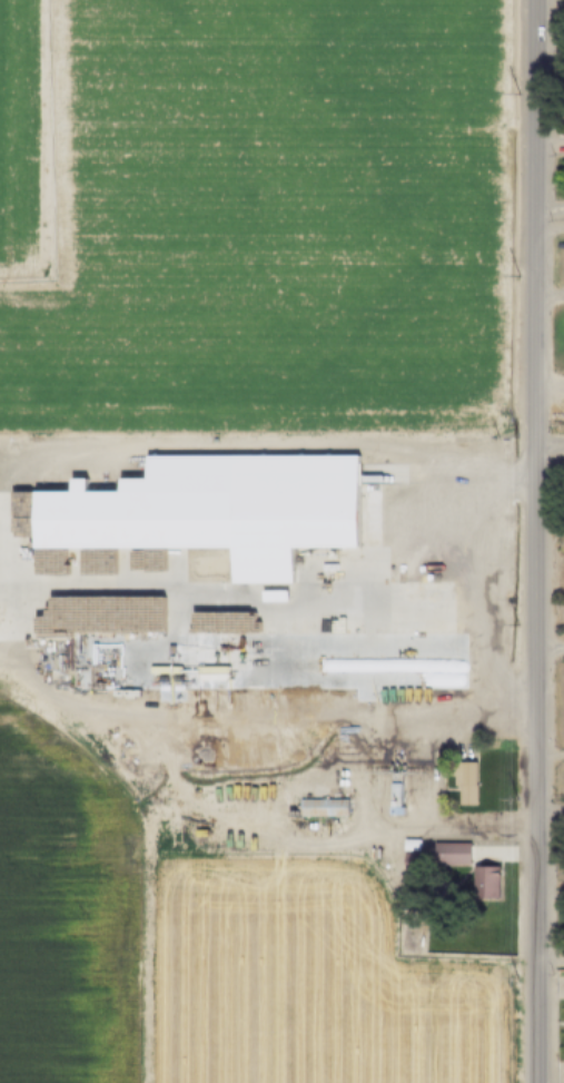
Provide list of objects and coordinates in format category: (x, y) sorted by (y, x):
road: (548, 85)
road: (548, 138)
crop: (21, 141)
road: (548, 210)
crop: (270, 219)
road: (548, 293)
road: (547, 383)
road: (547, 442)
road: (214, 447)
parking lot: (185, 462)
building: (214, 512)
building: (370, 514)
parking lot: (370, 514)
road: (532, 541)
road: (6, 569)
road: (422, 588)
road: (214, 595)
road: (547, 642)
building: (263, 661)
road: (194, 717)
road: (548, 751)
road: (212, 765)
road: (433, 768)
building: (464, 780)
road: (364, 789)
building: (393, 794)
road: (149, 801)
road: (548, 806)
building: (321, 807)
road: (277, 835)
building: (409, 844)
building: (451, 853)
building: (483, 882)
crop: (63, 914)
road: (145, 944)
crop: (309, 982)
road: (548, 985)
road: (548, 1071)

